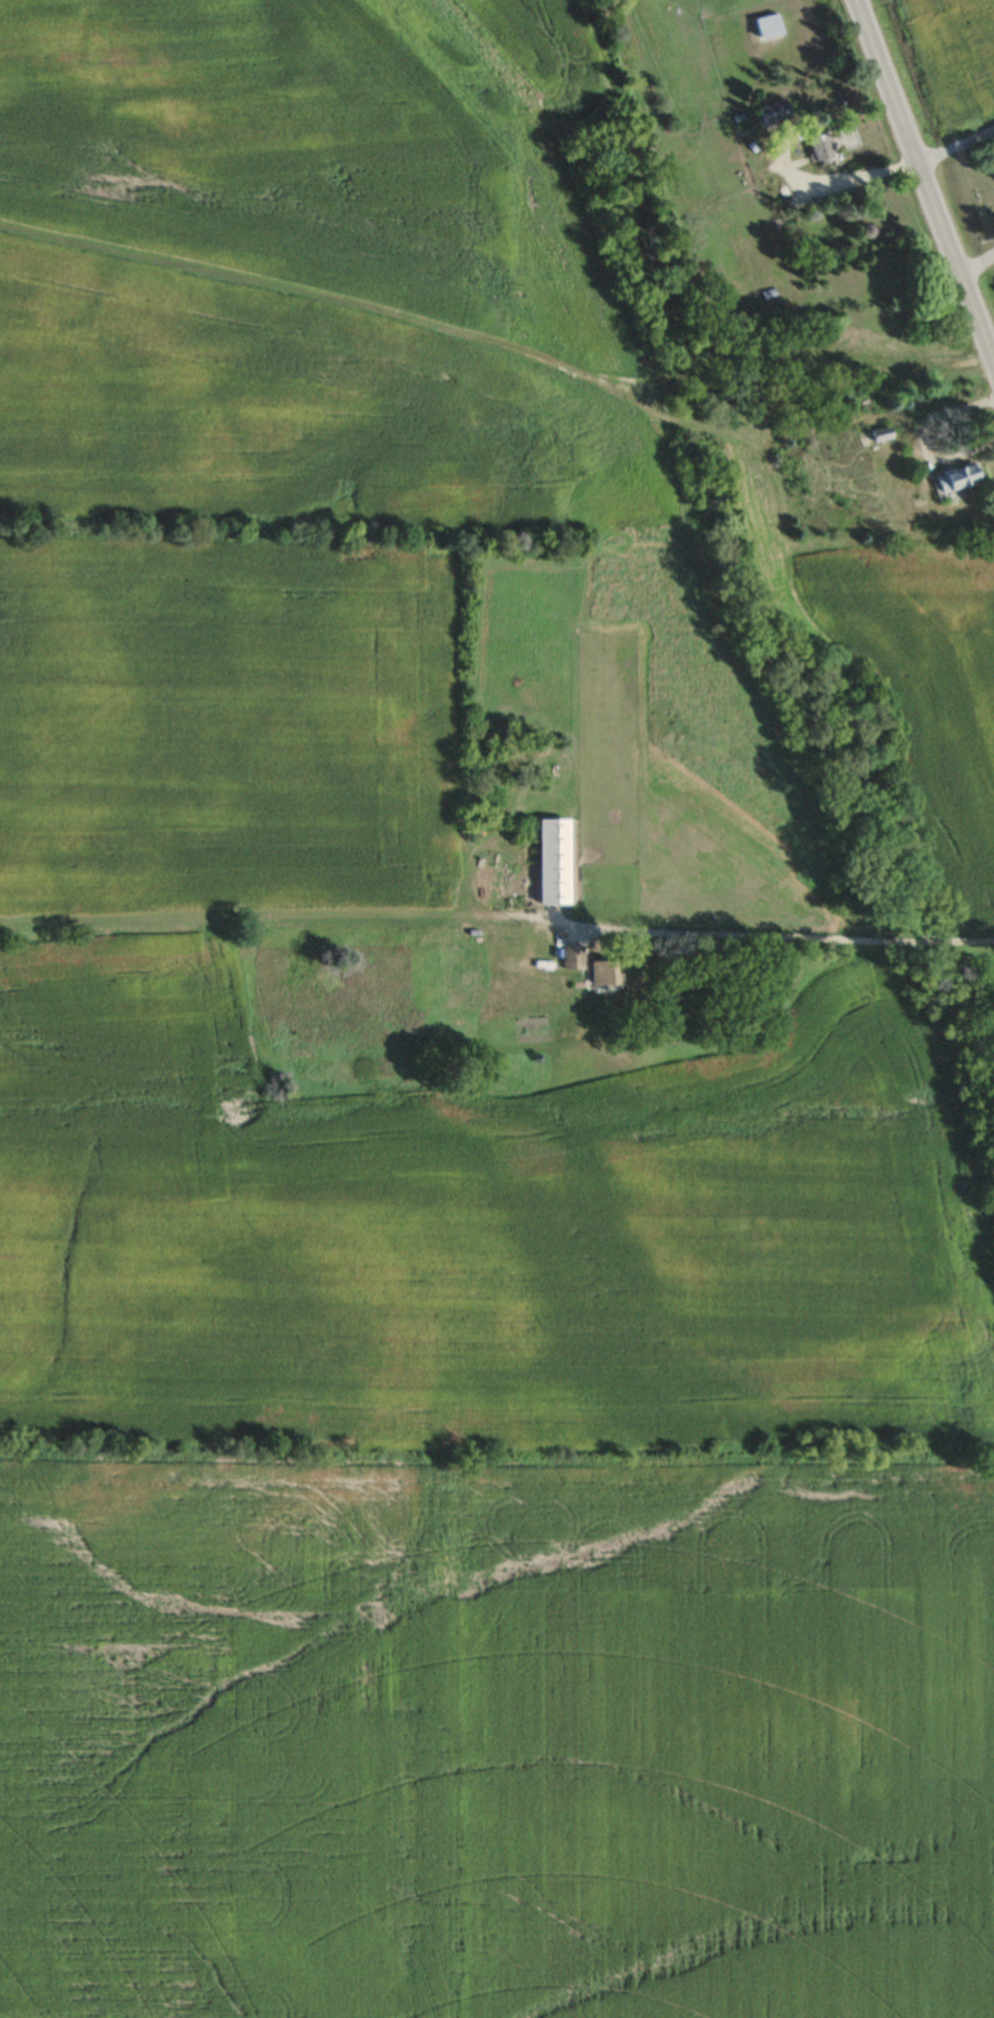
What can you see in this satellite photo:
building: (767, 25)
building: (773, 111)
road: (953, 139)
building: (820, 147)
road: (923, 184)
road: (975, 258)
building: (880, 433)
building: (956, 475)
building: (553, 860)
road: (791, 934)
building: (571, 955)
building: (601, 972)

